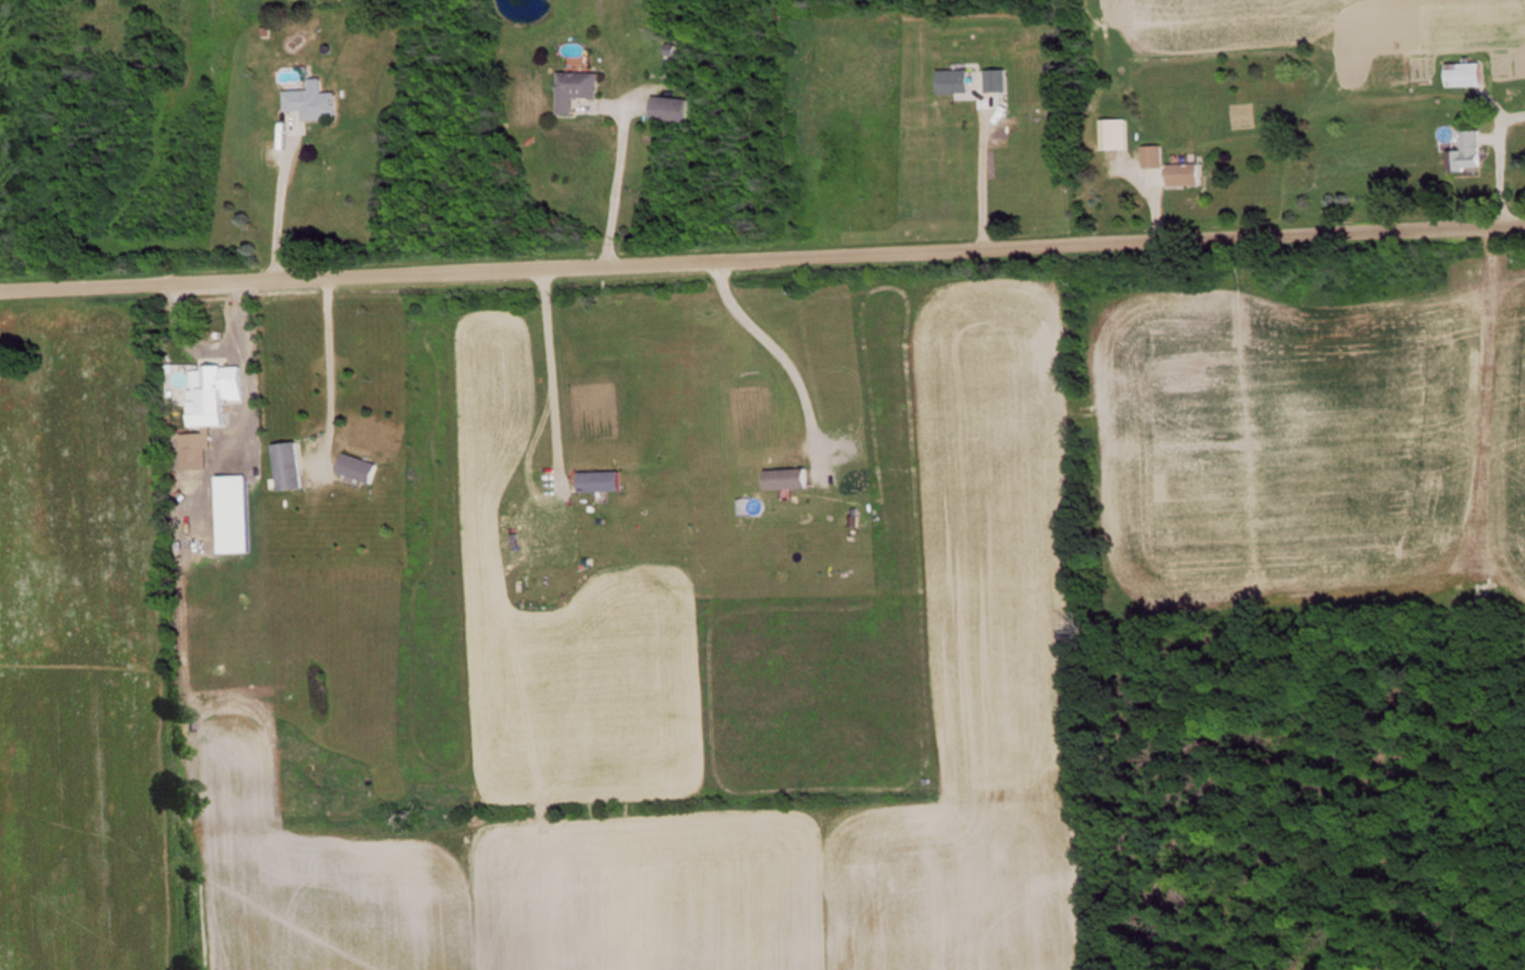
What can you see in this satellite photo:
building: (580, 62)
building: (1468, 74)
building: (1000, 79)
building: (957, 80)
building: (581, 88)
building: (316, 101)
building: (673, 109)
building: (1120, 134)
building: (1472, 152)
building: (1156, 157)
building: (1188, 175)
road: (271, 200)
road: (762, 256)
building: (216, 380)
building: (291, 466)
building: (363, 467)
building: (791, 479)
building: (606, 481)

